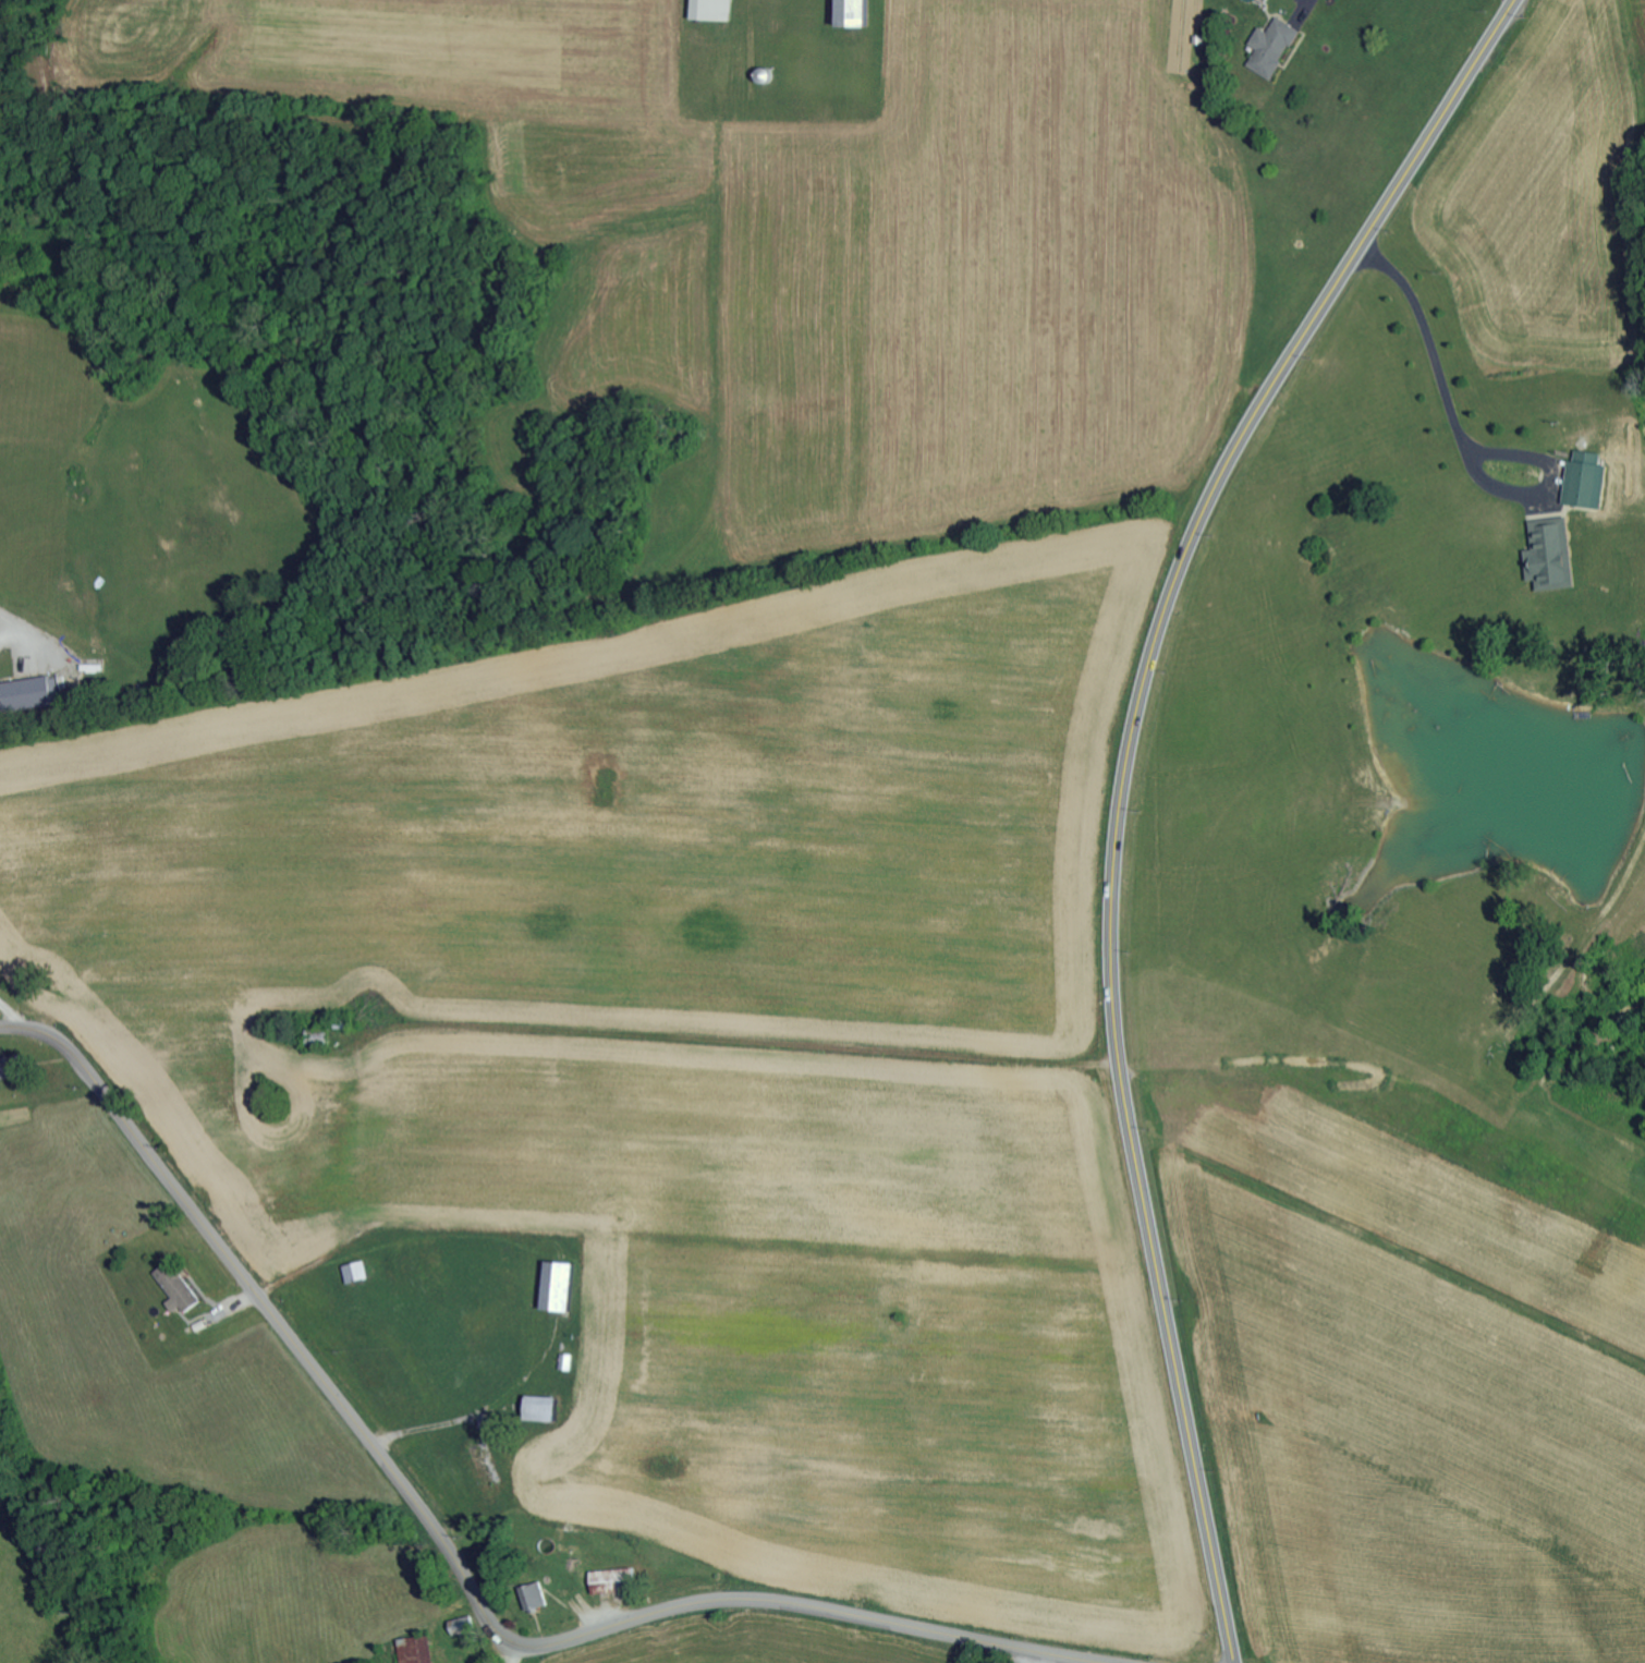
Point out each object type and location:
building: (709, 10)
building: (849, 13)
building: (1269, 47)
building: (1583, 481)
building: (1548, 556)
building: (23, 692)
road: (1124, 787)
road: (766, 1023)
building: (3, 1069)
building: (353, 1271)
building: (556, 1285)
building: (173, 1287)
building: (564, 1361)
building: (538, 1407)
road: (451, 1550)
building: (609, 1579)
building: (529, 1595)
building: (413, 1649)
road: (516, 1652)

